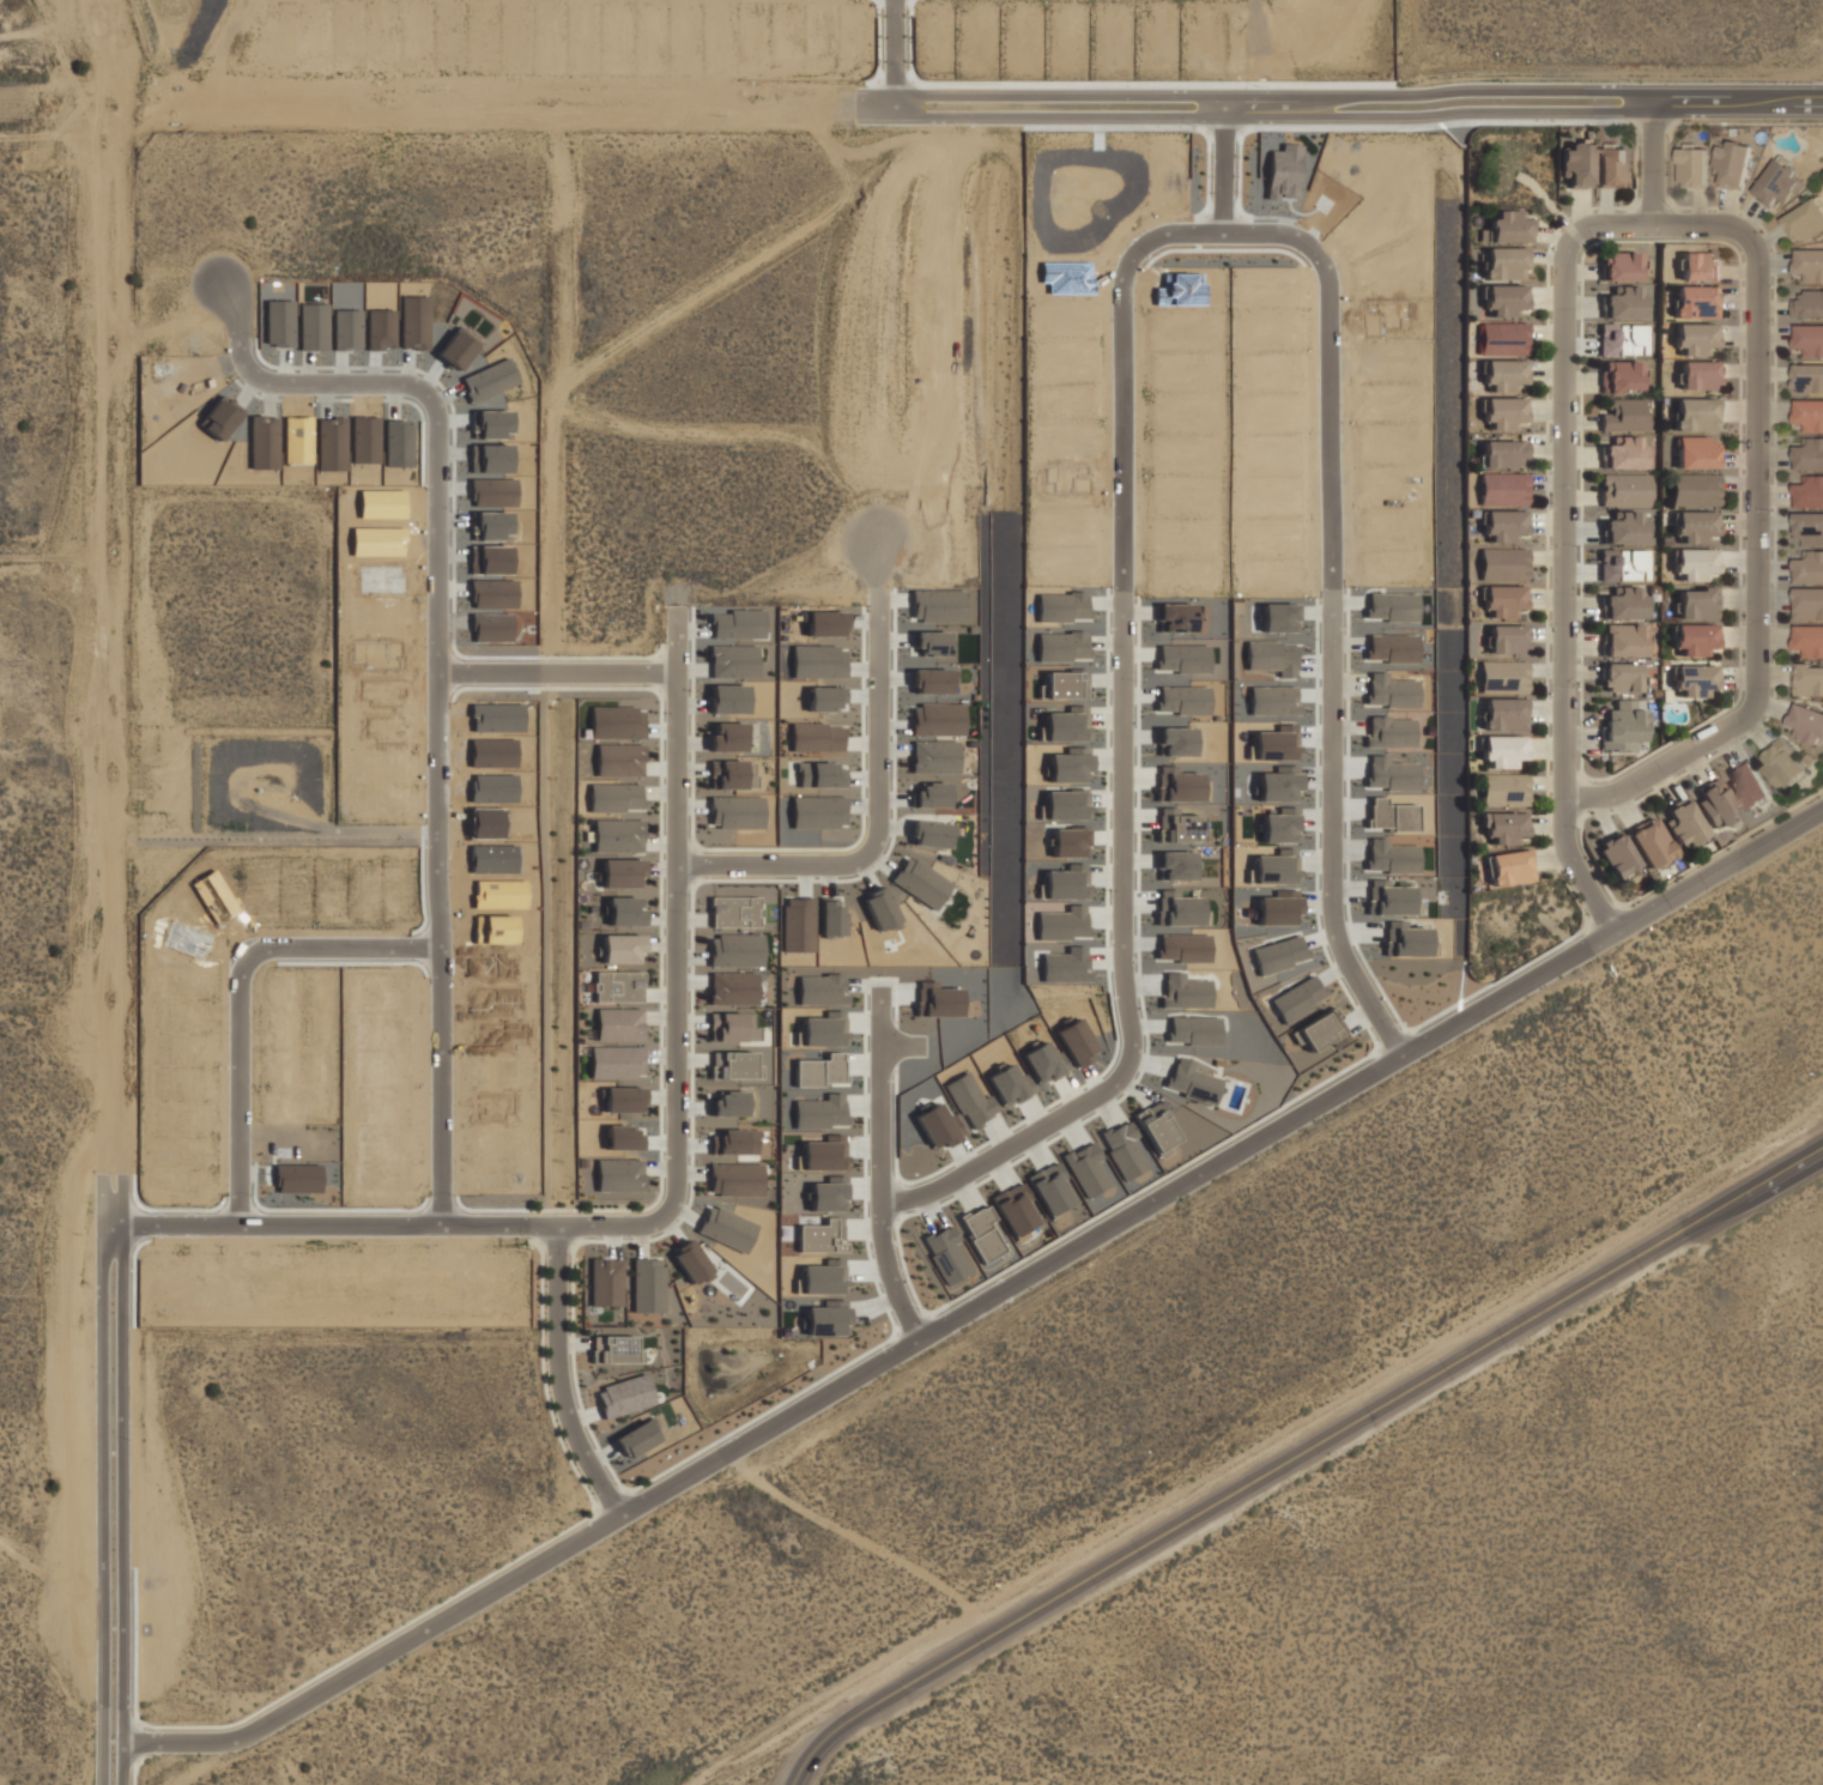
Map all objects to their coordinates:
road: (910, 53)
road: (971, 104)
building: (1732, 162)
building: (1576, 163)
building: (1610, 164)
building: (1694, 165)
road: (1655, 167)
road: (1222, 168)
road: (544, 169)
road: (567, 169)
building: (1777, 183)
building: (1804, 218)
building: (1506, 226)
road: (1649, 226)
road: (388, 232)
road: (1288, 234)
road: (1155, 238)
building: (1503, 262)
building: (1809, 264)
building: (1698, 265)
building: (1623, 266)
building: (1503, 299)
building: (1624, 301)
building: (1696, 301)
building: (1807, 304)
building: (1502, 337)
building: (1695, 337)
building: (1623, 339)
building: (1809, 339)
building: (1698, 374)
building: (1504, 375)
building: (1623, 375)
building: (1807, 377)
building: (1503, 412)
building: (1624, 413)
building: (1695, 413)
building: (1809, 415)
building: (1624, 452)
building: (1696, 452)
building: (1502, 453)
building: (1810, 454)
building: (1502, 488)
building: (1624, 489)
building: (1695, 489)
building: (1809, 491)
building: (1503, 525)
building: (1695, 526)
building: (1627, 527)
building: (1809, 527)
building: (1502, 563)
building: (1696, 563)
building: (1623, 564)
building: (1810, 567)
building: (1502, 599)
building: (1625, 601)
building: (1697, 601)
building: (1809, 601)
building: (938, 606)
building: (737, 624)
building: (824, 624)
building: (1507, 637)
building: (1625, 639)
building: (1696, 639)
building: (1809, 640)
building: (932, 643)
building: (733, 661)
building: (818, 662)
road: (556, 671)
building: (1502, 676)
building: (1623, 676)
road: (1325, 677)
building: (1807, 678)
building: (1696, 680)
building: (931, 682)
building: (825, 698)
building: (727, 700)
building: (1504, 713)
building: (938, 720)
building: (616, 722)
building: (1806, 722)
building: (1624, 724)
building: (727, 737)
building: (816, 738)
building: (1503, 751)
building: (934, 757)
building: (618, 761)
building: (1783, 766)
building: (1067, 768)
building: (727, 774)
building: (820, 775)
road: (674, 777)
building: (1748, 783)
building: (1503, 788)
building: (931, 795)
building: (613, 798)
building: (1715, 803)
building: (1065, 805)
building: (735, 812)
building: (817, 812)
road: (1121, 822)
building: (1684, 822)
building: (1503, 827)
building: (931, 834)
building: (617, 836)
building: (1651, 841)
building: (1068, 843)
building: (1617, 855)
building: (1507, 866)
road: (116, 869)
building: (620, 873)
building: (920, 883)
building: (1066, 883)
building: (879, 909)
building: (624, 912)
building: (734, 912)
road: (1636, 916)
building: (829, 918)
building: (1062, 924)
building: (797, 925)
building: (620, 949)
building: (735, 950)
building: (1062, 964)
building: (733, 988)
building: (820, 990)
road: (236, 992)
building: (1297, 998)
building: (937, 1000)
building: (618, 1025)
building: (732, 1027)
building: (824, 1030)
building: (1321, 1030)
building: (1076, 1042)
road: (896, 1045)
building: (616, 1063)
building: (1043, 1063)
building: (734, 1065)
building: (819, 1071)
building: (1009, 1085)
building: (623, 1100)
building: (970, 1101)
building: (728, 1105)
building: (819, 1112)
building: (935, 1126)
building: (1155, 1131)
building: (623, 1138)
building: (1122, 1149)
building: (824, 1154)
building: (1085, 1169)
road: (879, 1172)
building: (618, 1175)
building: (735, 1179)
building: (1049, 1188)
building: (828, 1194)
building: (1015, 1210)
road: (337, 1224)
building: (726, 1229)
building: (980, 1233)
building: (820, 1235)
road: (1084, 1241)
building: (945, 1253)
building: (690, 1263)
building: (824, 1277)
building: (605, 1282)
building: (647, 1285)
building: (825, 1318)
building: (614, 1350)
road: (558, 1372)
building: (624, 1396)
building: (636, 1439)
building: (650, 1448)
road: (1300, 1454)
road: (423, 1628)
road: (107, 1761)
road: (121, 1761)

